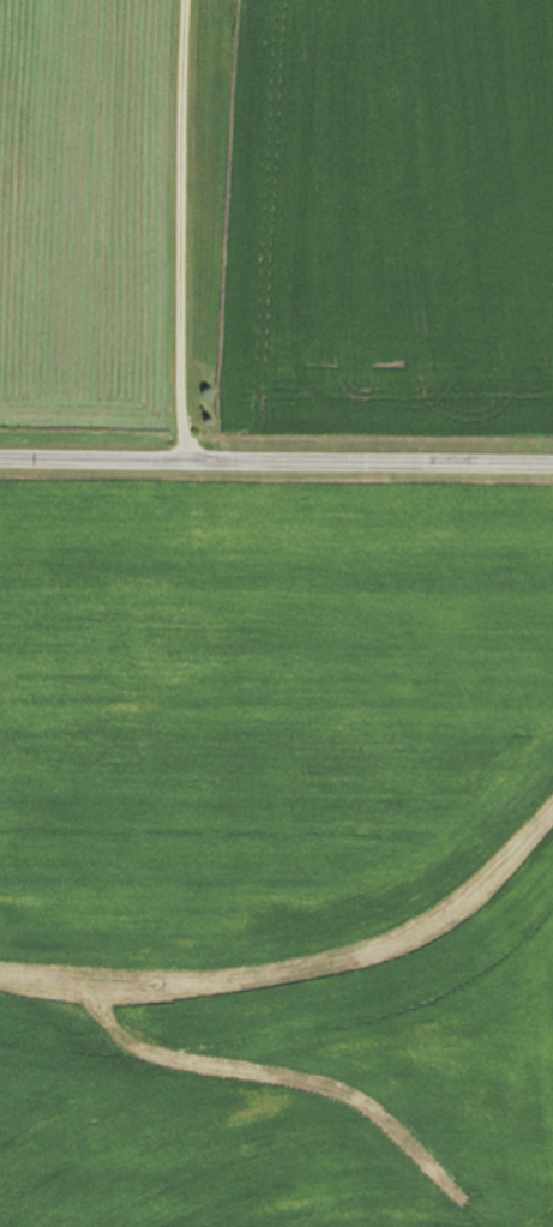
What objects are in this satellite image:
road: (188, 231)
road: (276, 463)

